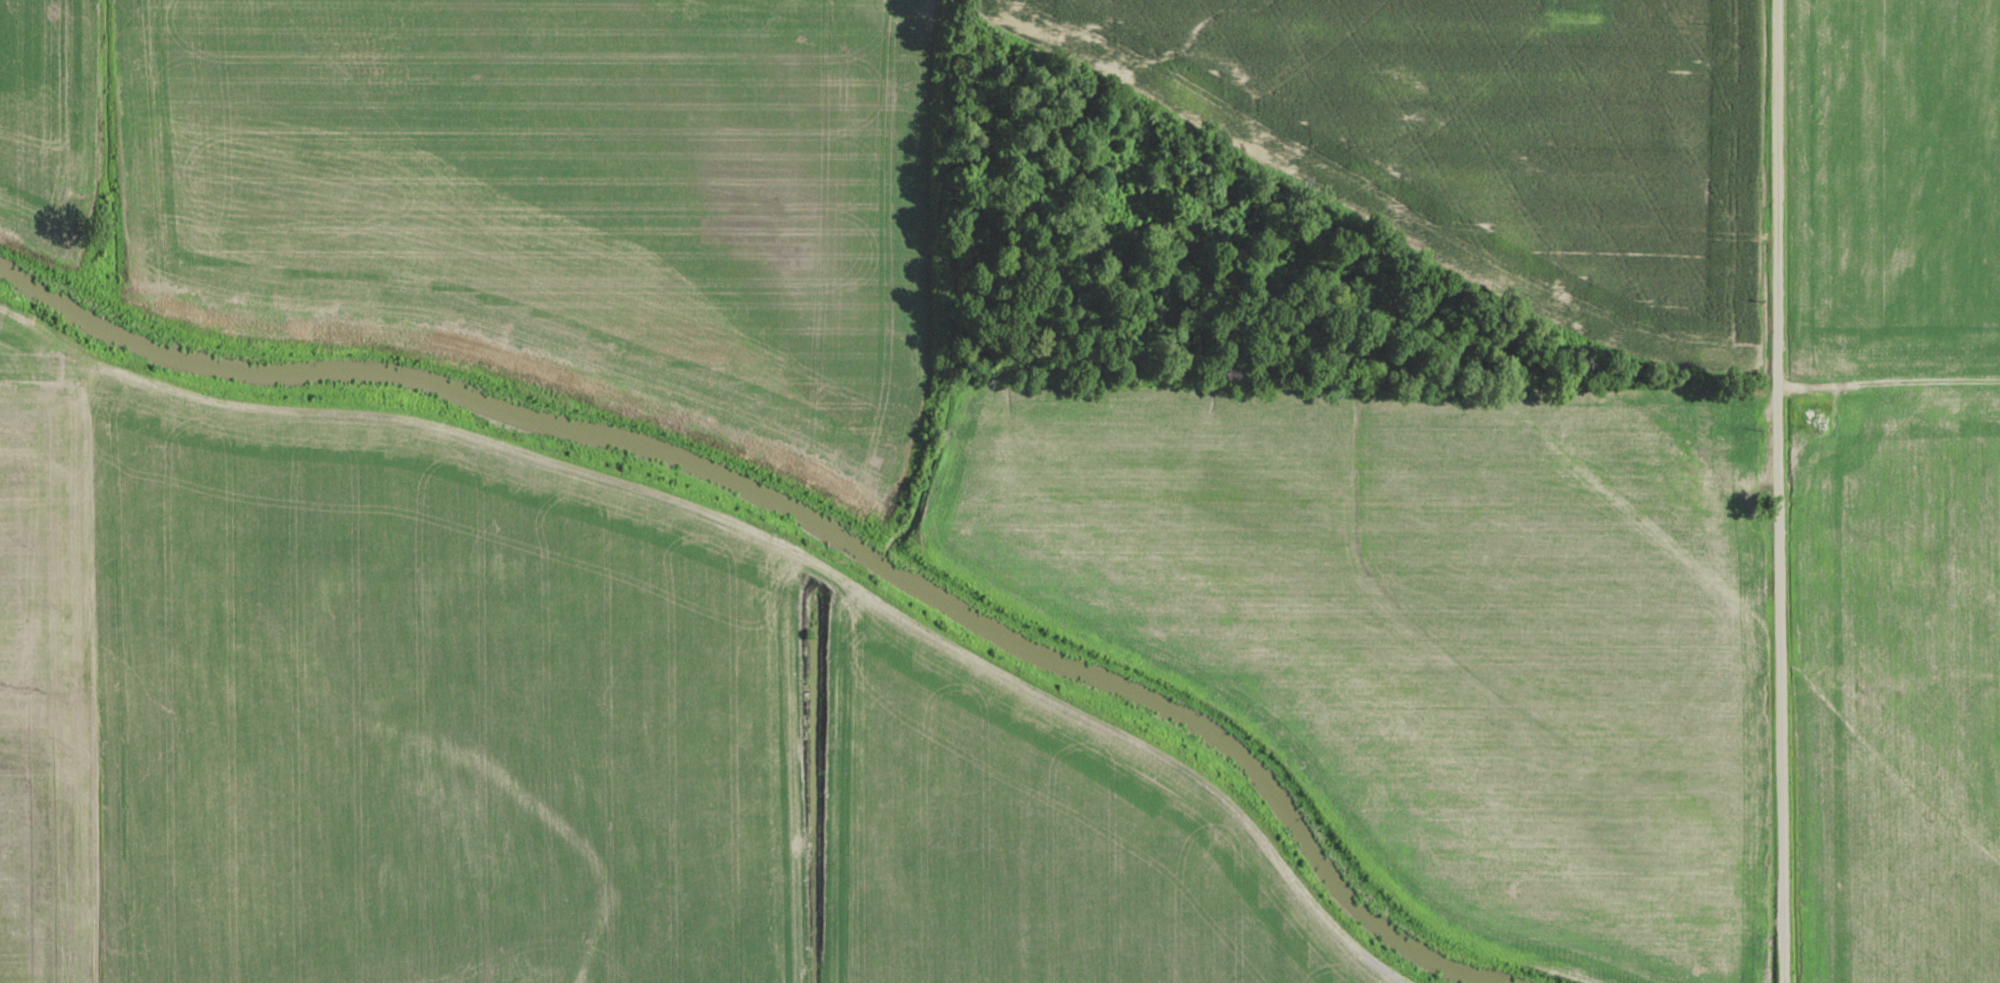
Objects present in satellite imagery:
road: (1782, 491)

